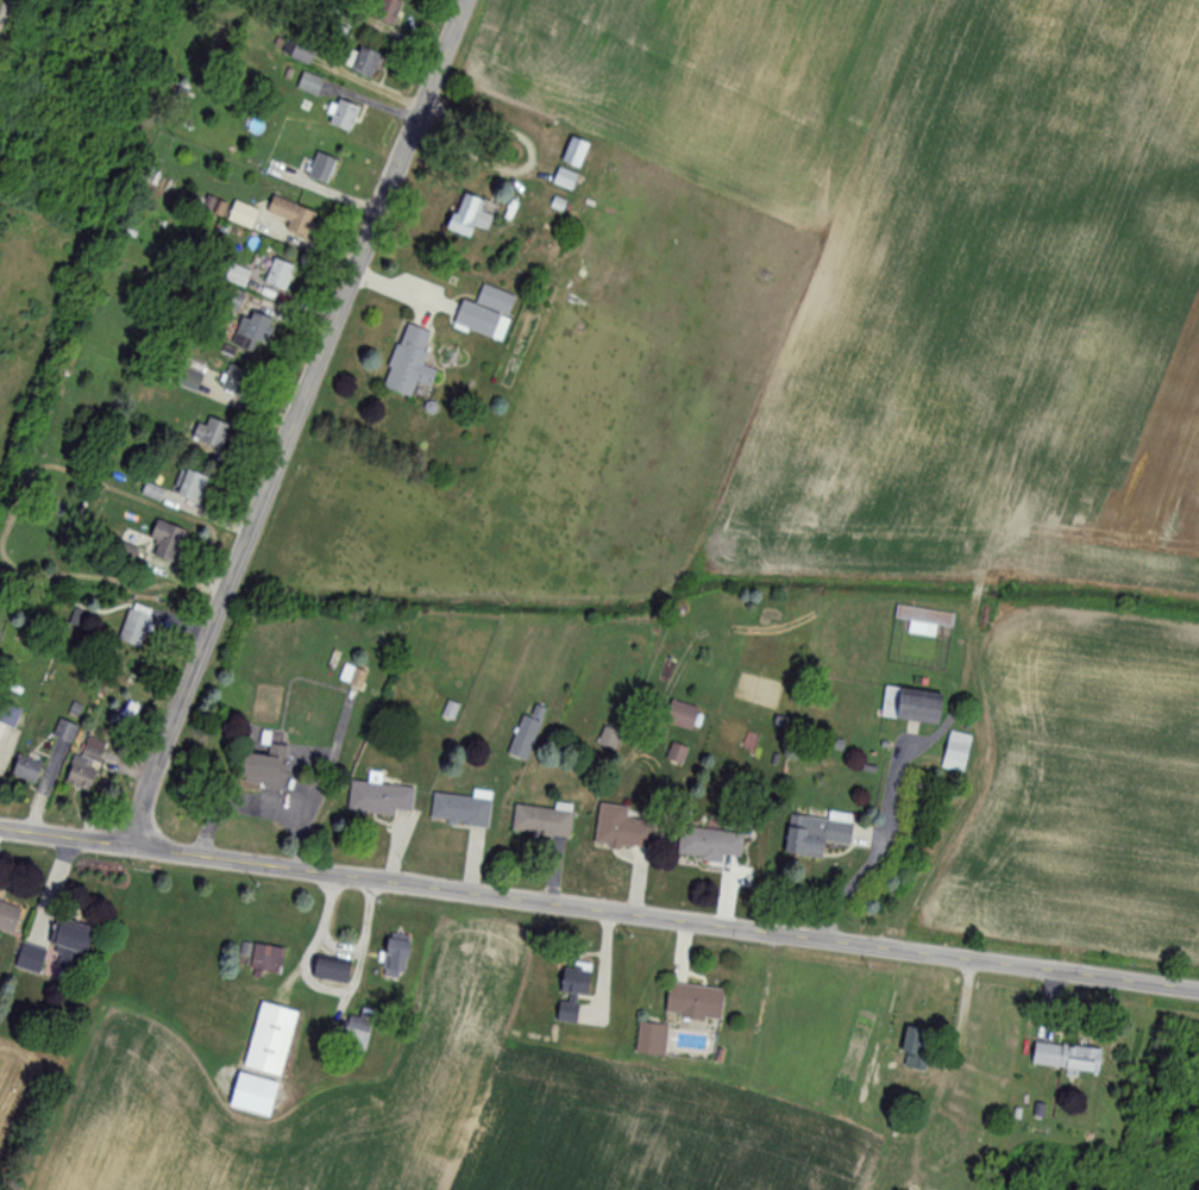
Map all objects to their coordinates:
building: (387, 12)
building: (297, 51)
building: (363, 62)
building: (309, 83)
building: (341, 115)
building: (573, 152)
building: (321, 168)
building: (564, 178)
building: (213, 207)
building: (241, 215)
building: (291, 217)
building: (466, 217)
building: (276, 280)
building: (485, 313)
building: (246, 350)
building: (409, 363)
road: (290, 420)
building: (212, 433)
building: (189, 487)
building: (162, 543)
building: (923, 620)
building: (134, 626)
building: (352, 676)
building: (910, 706)
building: (8, 714)
building: (679, 714)
building: (64, 732)
building: (526, 734)
building: (955, 752)
building: (676, 753)
building: (84, 763)
building: (263, 768)
building: (26, 770)
building: (379, 800)
building: (460, 809)
building: (542, 821)
building: (623, 828)
building: (816, 834)
building: (709, 845)
road: (598, 907)
building: (7, 917)
building: (69, 940)
building: (395, 957)
building: (263, 958)
building: (32, 962)
building: (331, 967)
road: (324, 989)
building: (571, 990)
building: (693, 1001)
building: (269, 1038)
building: (916, 1048)
building: (1066, 1056)
building: (246, 1096)
crop: (446, 1134)
building: (939, 1135)

